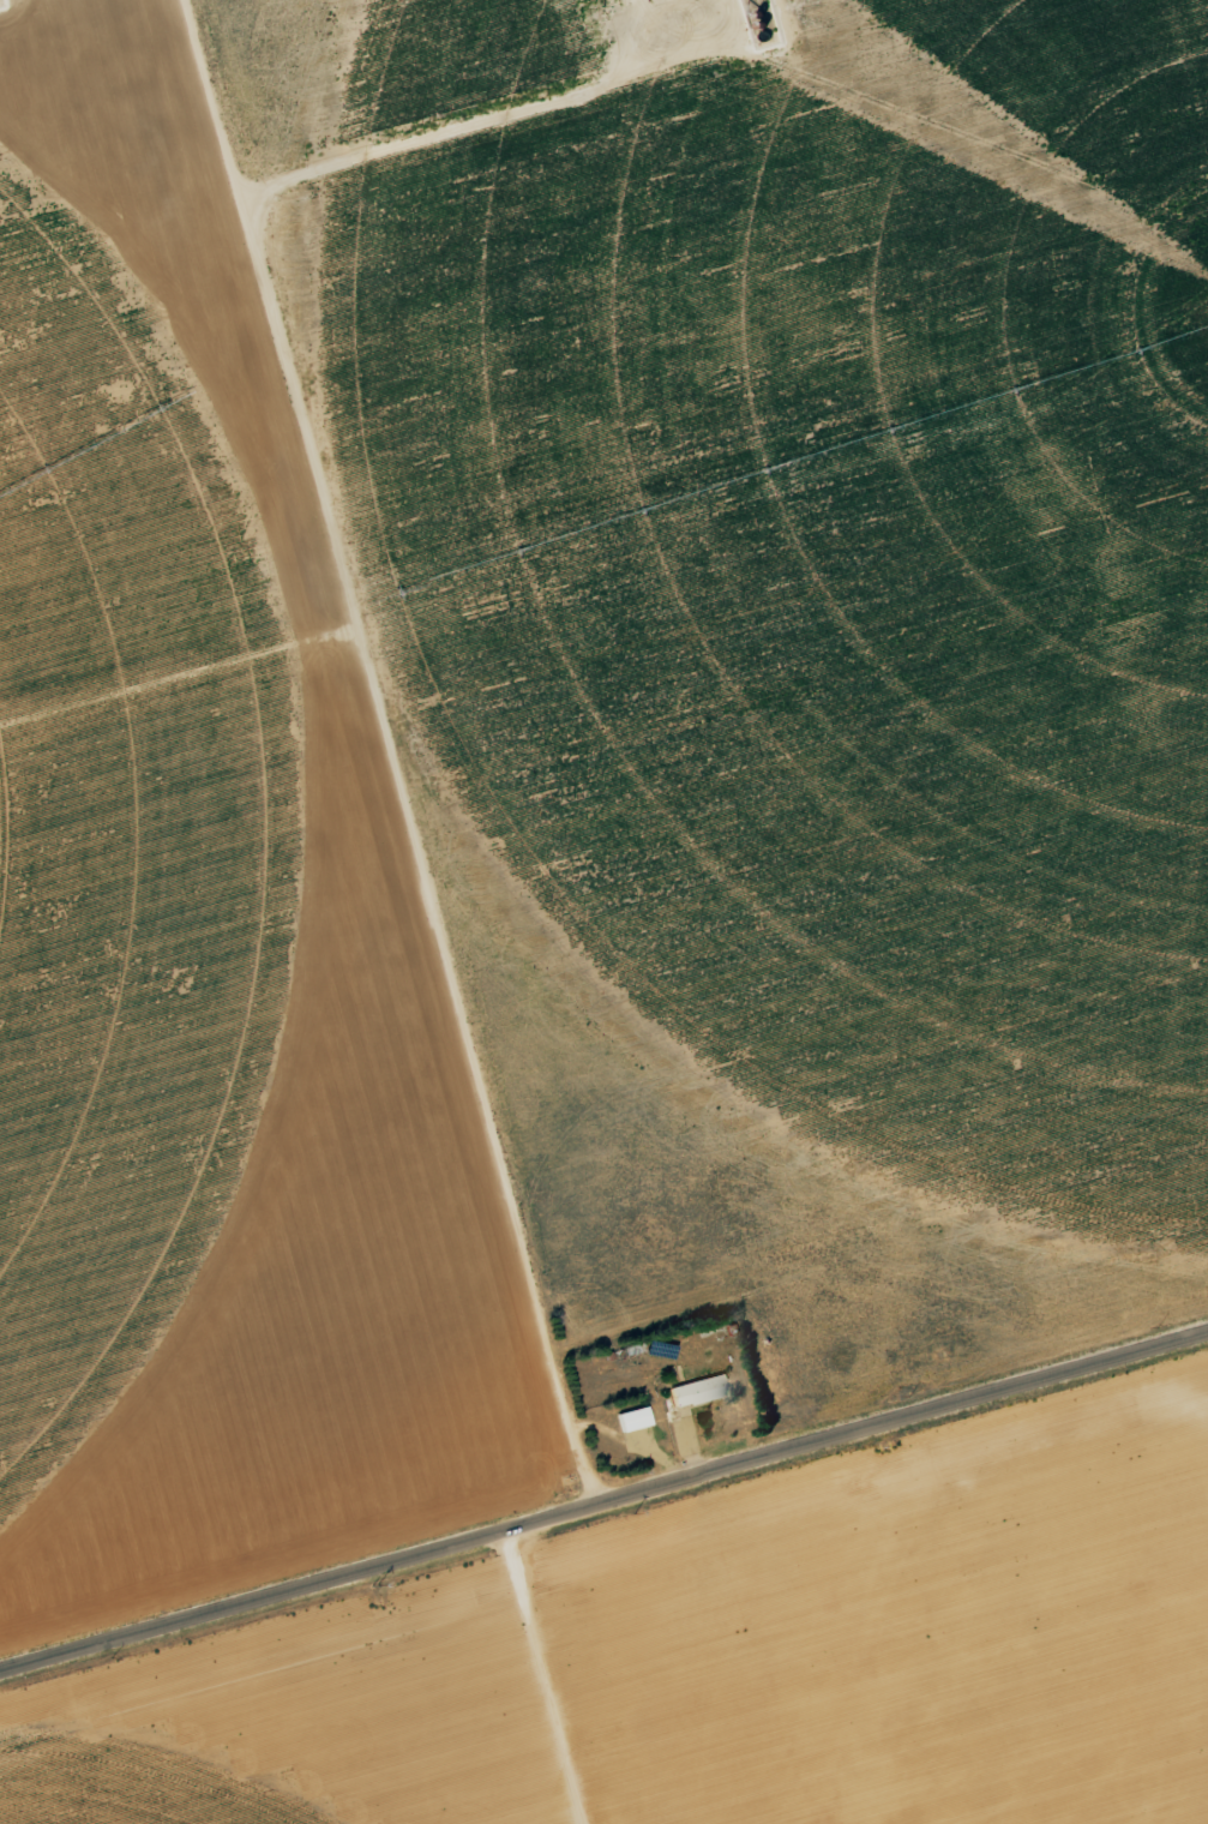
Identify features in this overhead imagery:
building: (699, 1391)
road: (603, 1500)

